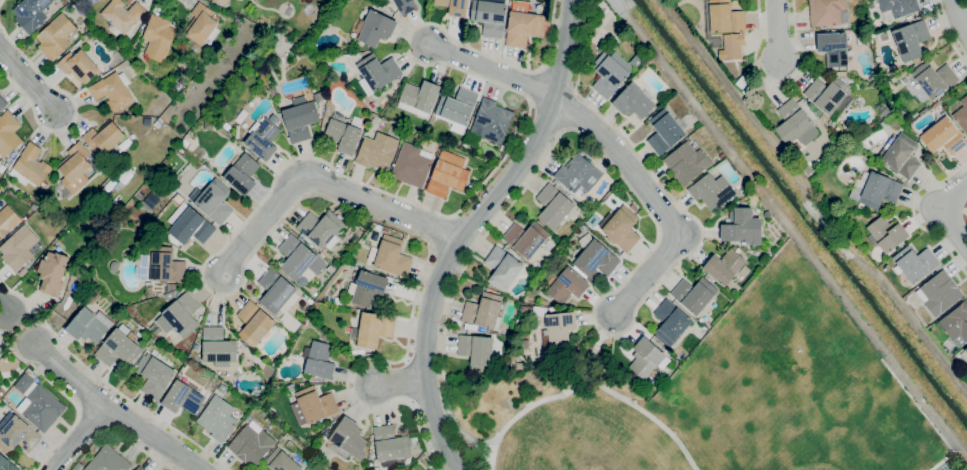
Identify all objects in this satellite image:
road: (169, 0)
road: (0, 1)
building: (222, 2)
building: (406, 6)
building: (454, 7)
building: (897, 8)
building: (826, 12)
building: (31, 13)
building: (123, 15)
building: (489, 17)
building: (725, 17)
road: (960, 17)
building: (237, 19)
building: (202, 25)
building: (522, 26)
building: (376, 28)
road: (776, 31)
road: (947, 34)
building: (56, 36)
building: (158, 38)
building: (911, 39)
building: (732, 47)
building: (834, 48)
building: (78, 65)
building: (375, 72)
road: (493, 72)
building: (608, 74)
road: (27, 79)
building: (934, 79)
building: (743, 80)
road: (780, 84)
building: (112, 90)
building: (827, 94)
building: (319, 97)
building: (419, 98)
building: (386, 100)
building: (633, 101)
building: (2, 103)
building: (457, 108)
road: (74, 111)
building: (962, 114)
building: (300, 119)
building: (491, 120)
building: (792, 121)
building: (226, 126)
building: (664, 132)
building: (8, 133)
building: (343, 135)
building: (103, 137)
building: (943, 137)
building: (263, 138)
building: (185, 143)
building: (125, 145)
building: (377, 151)
building: (200, 153)
building: (722, 155)
building: (902, 156)
building: (686, 162)
building: (32, 165)
building: (412, 165)
building: (75, 167)
building: (242, 174)
building: (448, 174)
building: (578, 175)
road: (322, 183)
building: (44, 185)
building: (874, 190)
building: (712, 191)
building: (213, 200)
road: (261, 202)
road: (656, 203)
building: (553, 206)
building: (633, 207)
road: (966, 211)
road: (941, 213)
road: (913, 214)
building: (593, 220)
building: (8, 221)
building: (189, 225)
building: (742, 227)
building: (320, 228)
building: (382, 228)
road: (470, 228)
building: (620, 228)
building: (97, 230)
building: (887, 233)
building: (526, 238)
road: (653, 247)
building: (18, 248)
building: (390, 256)
building: (298, 258)
building: (594, 258)
building: (915, 263)
building: (164, 265)
building: (724, 266)
building: (502, 268)
building: (52, 273)
building: (567, 285)
building: (367, 288)
building: (275, 290)
building: (939, 293)
road: (16, 294)
building: (694, 294)
road: (3, 308)
building: (484, 311)
building: (181, 315)
building: (290, 322)
building: (670, 322)
building: (254, 323)
building: (555, 324)
building: (956, 324)
building: (89, 325)
road: (20, 327)
building: (470, 327)
building: (374, 329)
road: (9, 330)
building: (118, 347)
building: (218, 347)
building: (965, 350)
building: (477, 351)
building: (647, 358)
building: (319, 360)
building: (520, 365)
building: (5, 367)
building: (155, 376)
road: (47, 378)
road: (400, 382)
building: (272, 386)
building: (292, 387)
building: (1, 392)
road: (555, 397)
building: (182, 398)
park: (732, 399)
road: (131, 400)
building: (38, 404)
building: (313, 405)
road: (113, 410)
building: (218, 418)
road: (647, 419)
road: (114, 433)
building: (18, 435)
road: (77, 437)
road: (60, 440)
building: (347, 440)
park: (816, 441)
building: (251, 445)
building: (391, 446)
park: (635, 451)
building: (108, 460)
building: (281, 461)
building: (6, 464)
building: (77, 466)
park: (945, 467)
building: (139, 468)

